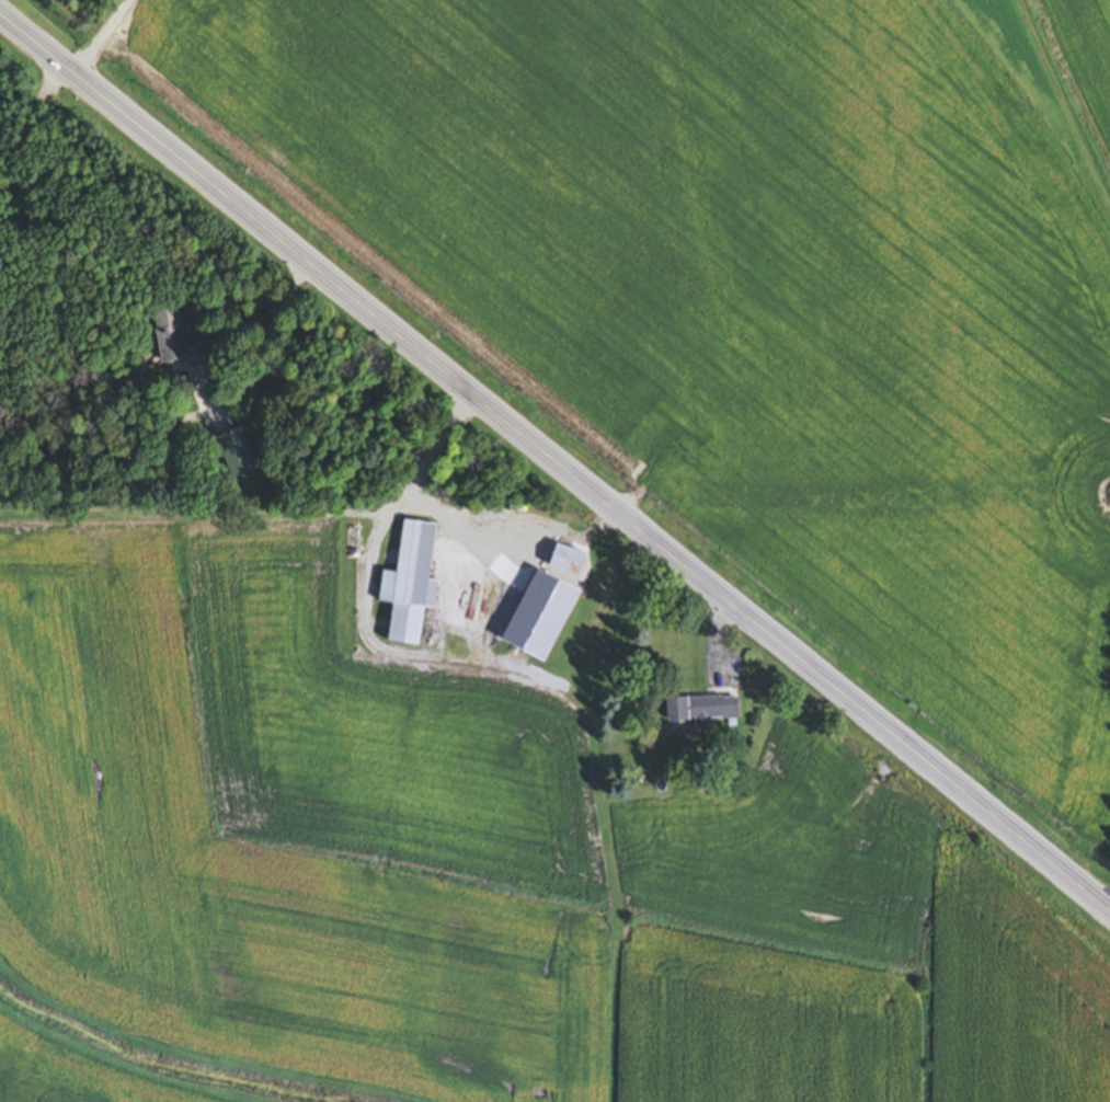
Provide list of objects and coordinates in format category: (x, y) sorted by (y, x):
road: (279, 330)
building: (173, 342)
building: (232, 457)
road: (556, 458)
road: (407, 502)
building: (487, 539)
building: (563, 562)
building: (409, 586)
building: (700, 712)

